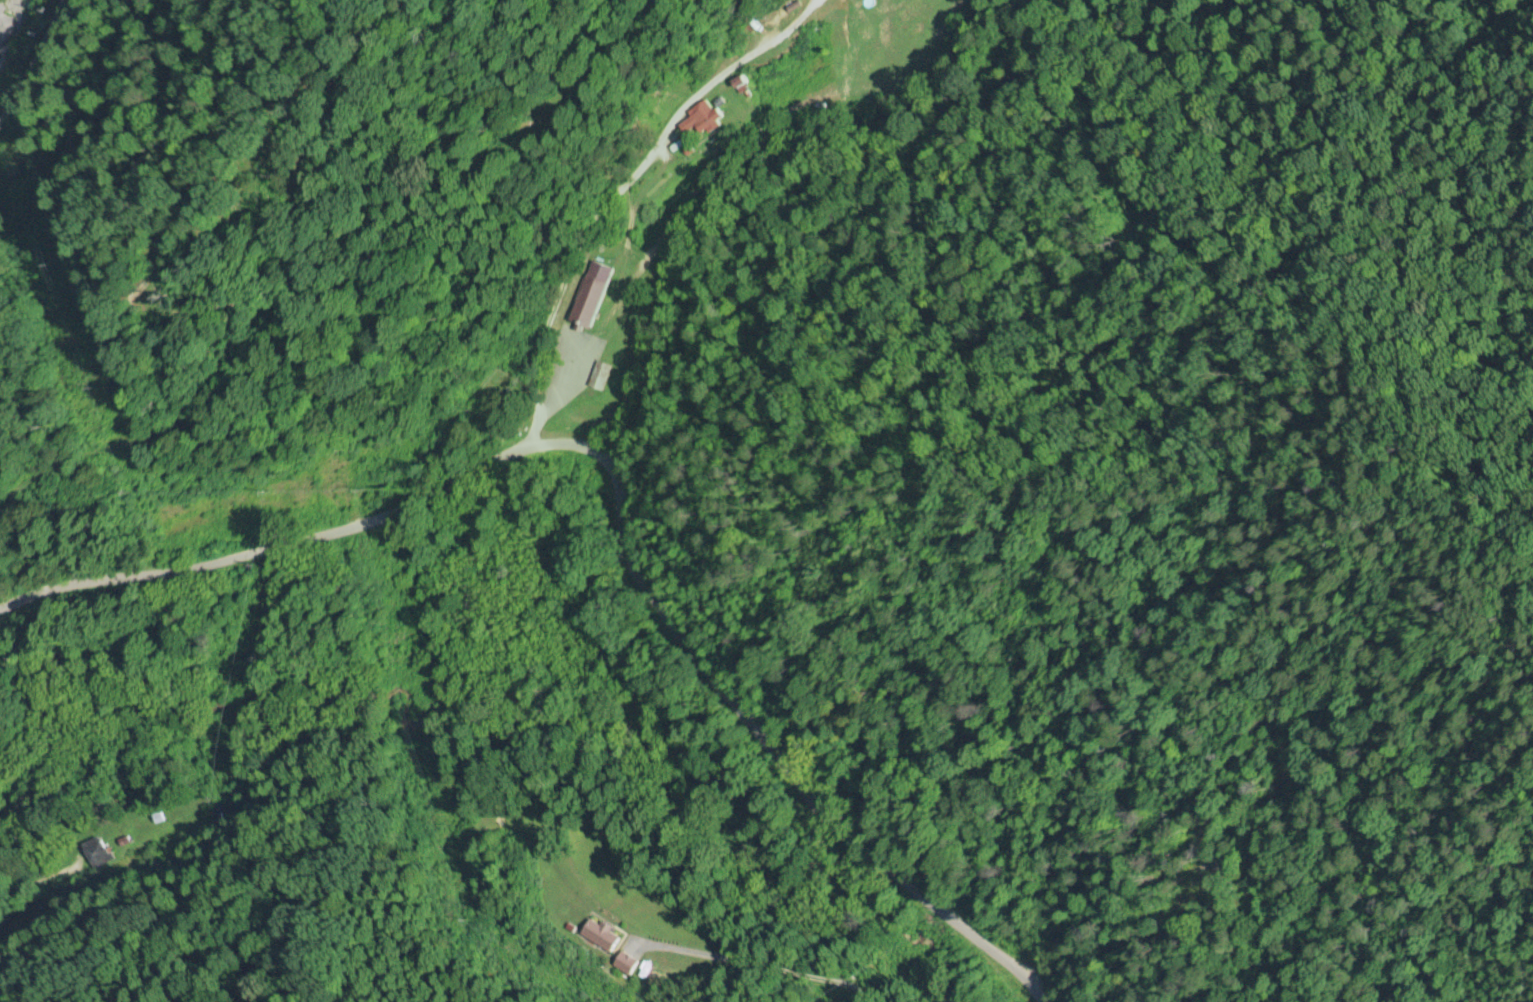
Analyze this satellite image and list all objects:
road: (594, 214)
road: (272, 545)
road: (781, 709)
building: (223, 813)
building: (97, 852)

